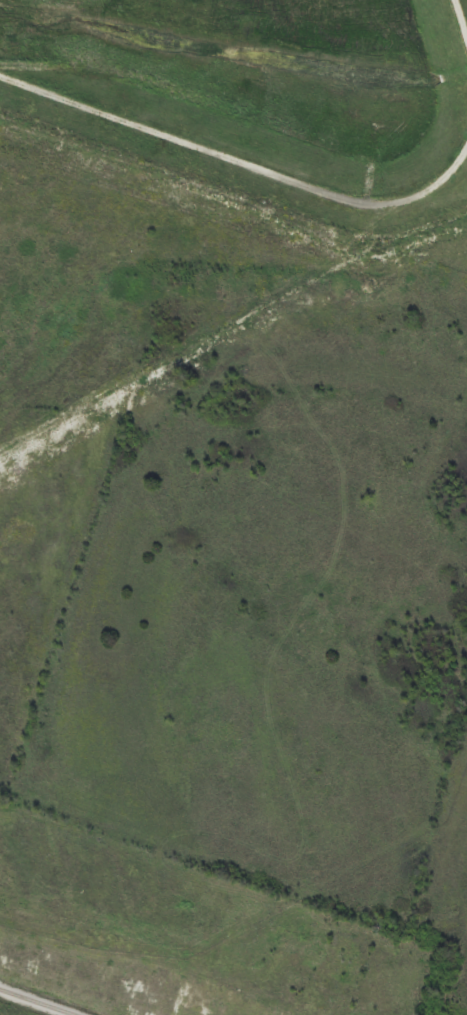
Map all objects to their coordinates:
railway: (39, 1001)

